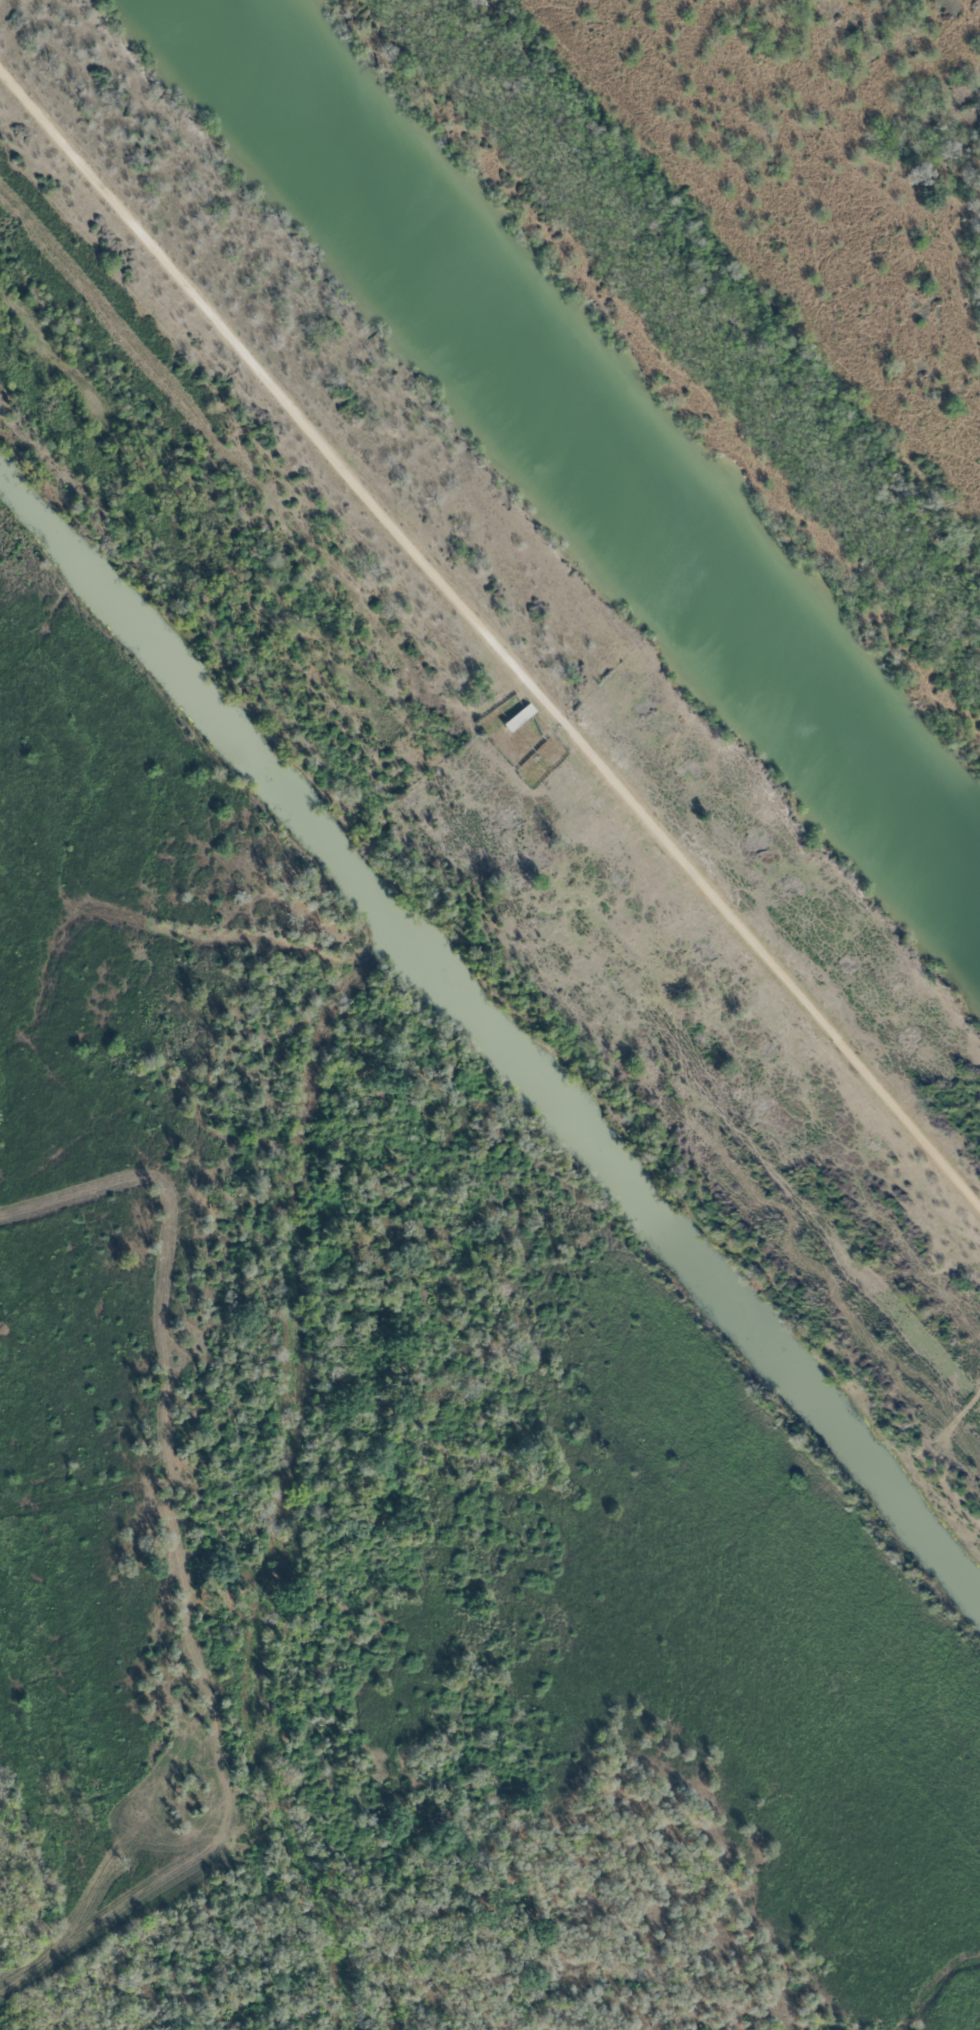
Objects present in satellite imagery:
road: (489, 633)
building: (512, 721)

